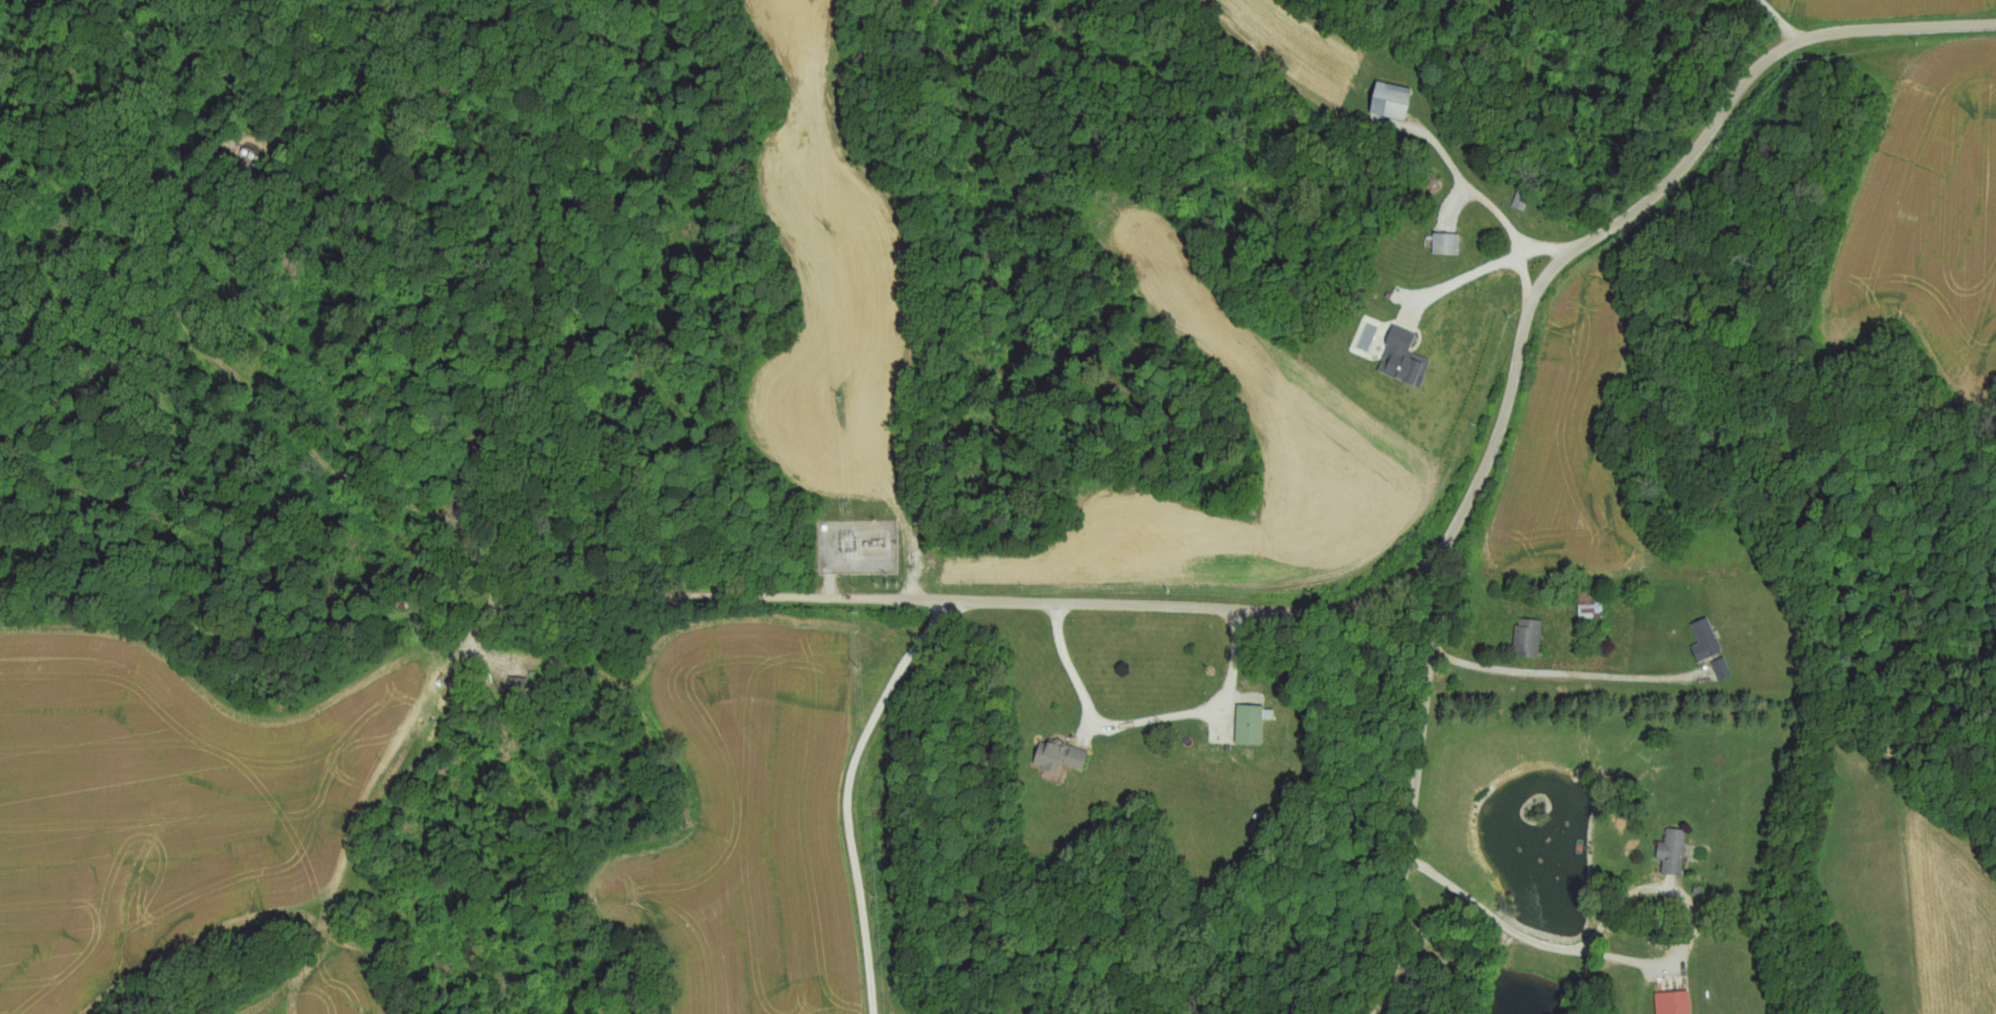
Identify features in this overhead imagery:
building: (1392, 102)
building: (1469, 263)
road: (1488, 263)
road: (1513, 379)
road: (833, 564)
road: (961, 601)
building: (1592, 604)
building: (1529, 639)
building: (1707, 641)
road: (1559, 674)
road: (1143, 723)
building: (1251, 725)
building: (1059, 756)
road: (848, 791)
crop: (179, 797)
building: (1674, 851)
road: (1532, 942)
crop: (337, 983)
building: (1674, 1003)

